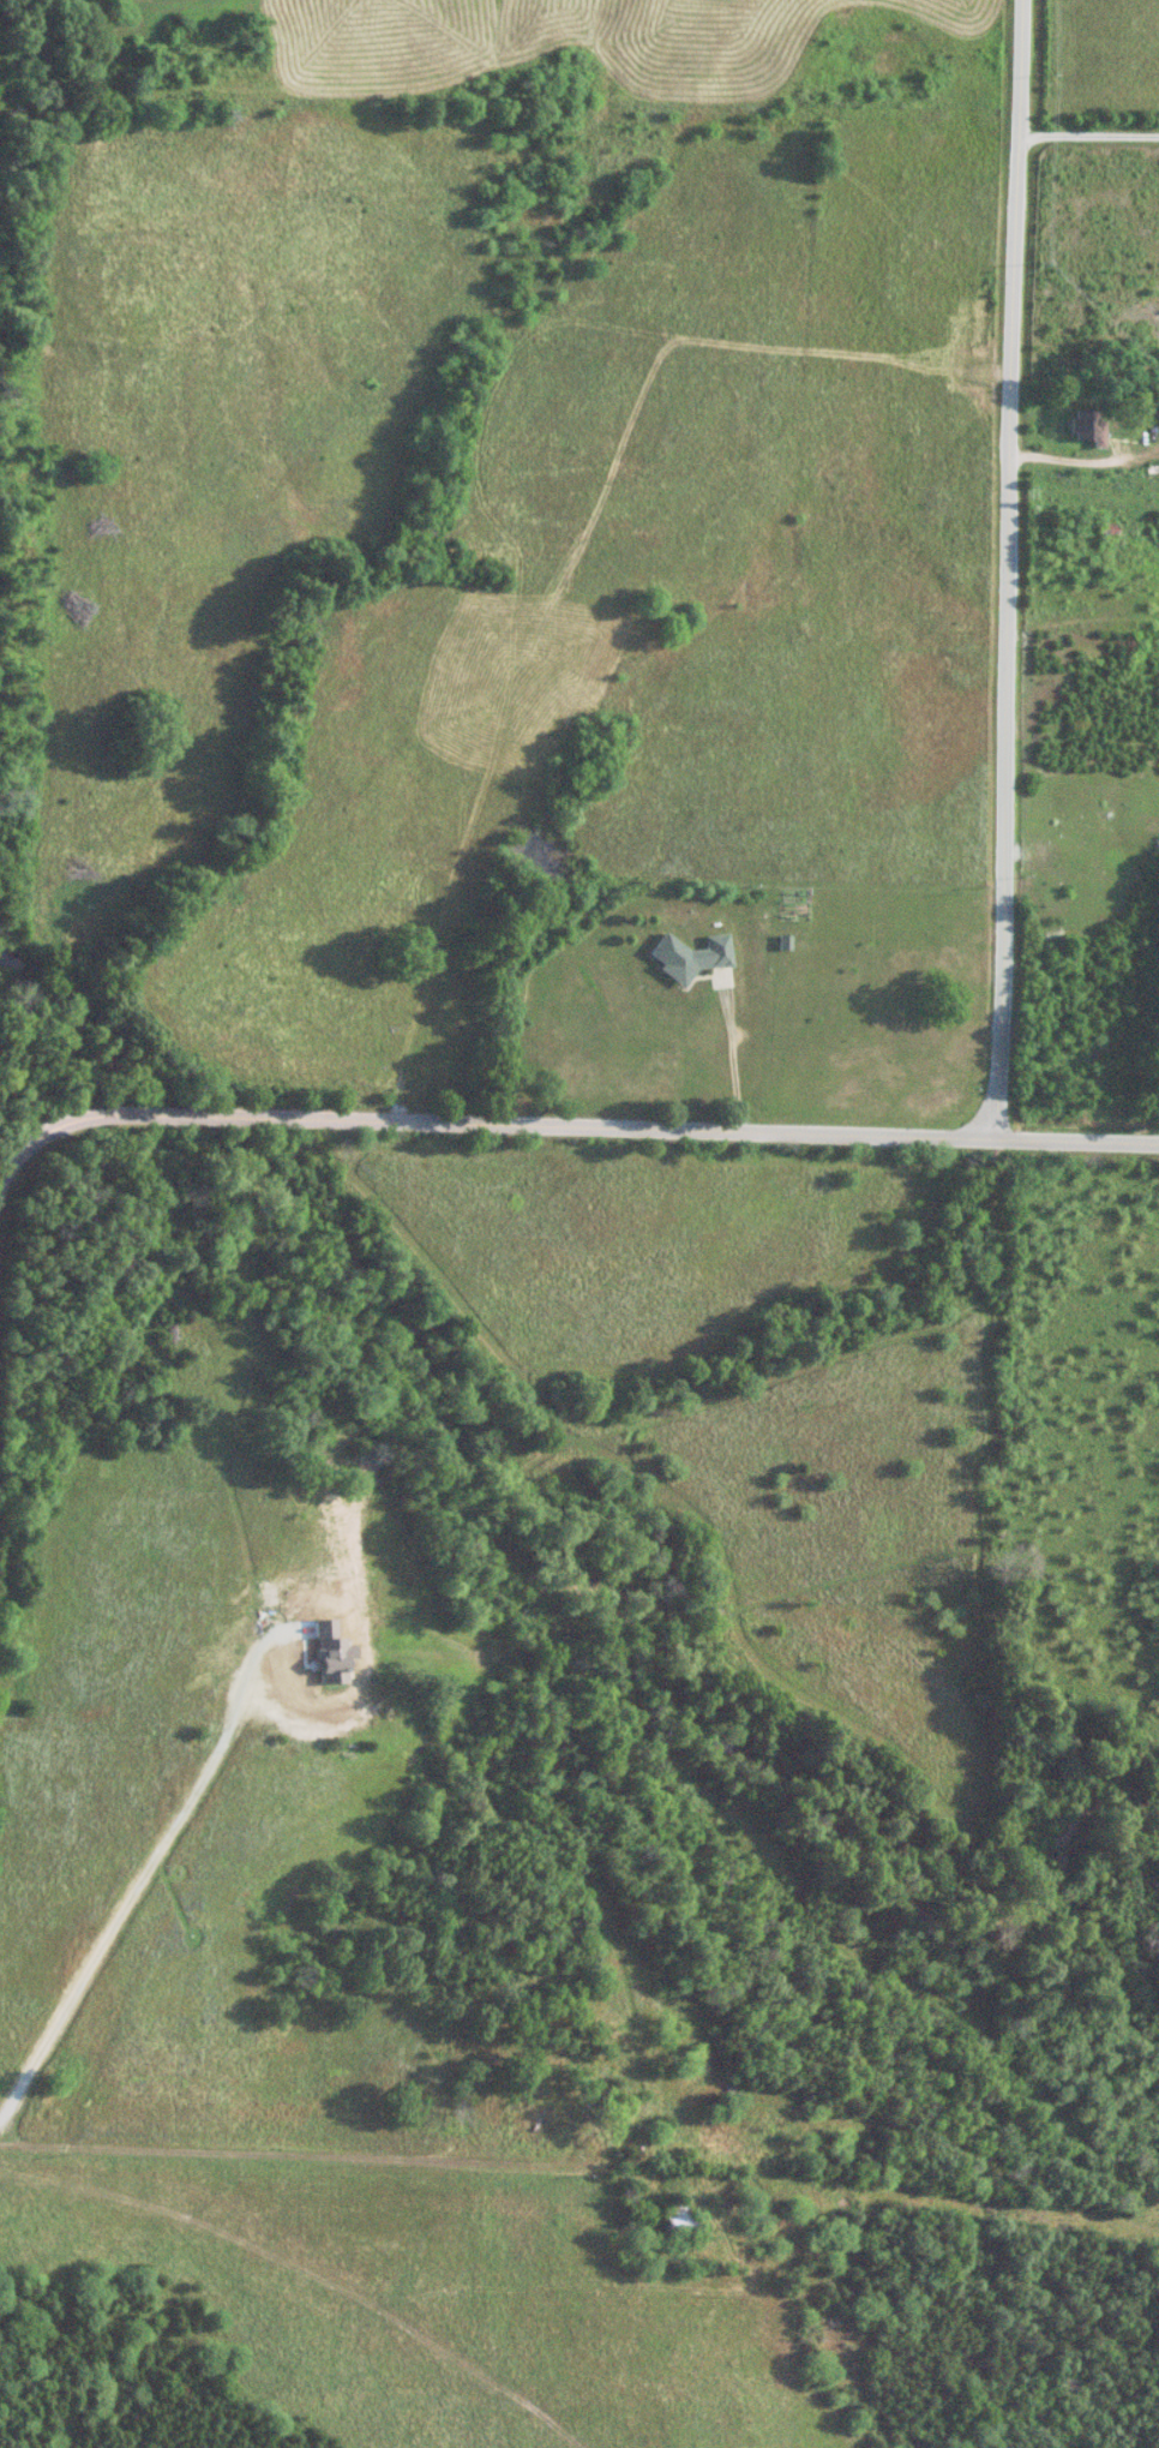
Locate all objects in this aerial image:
road: (1085, 133)
building: (1148, 406)
building: (1081, 430)
building: (1100, 527)
road: (1005, 571)
building: (685, 957)
road: (728, 1054)
road: (104, 1113)
road: (698, 1131)
road: (137, 1872)
building: (533, 2118)
building: (666, 2219)

